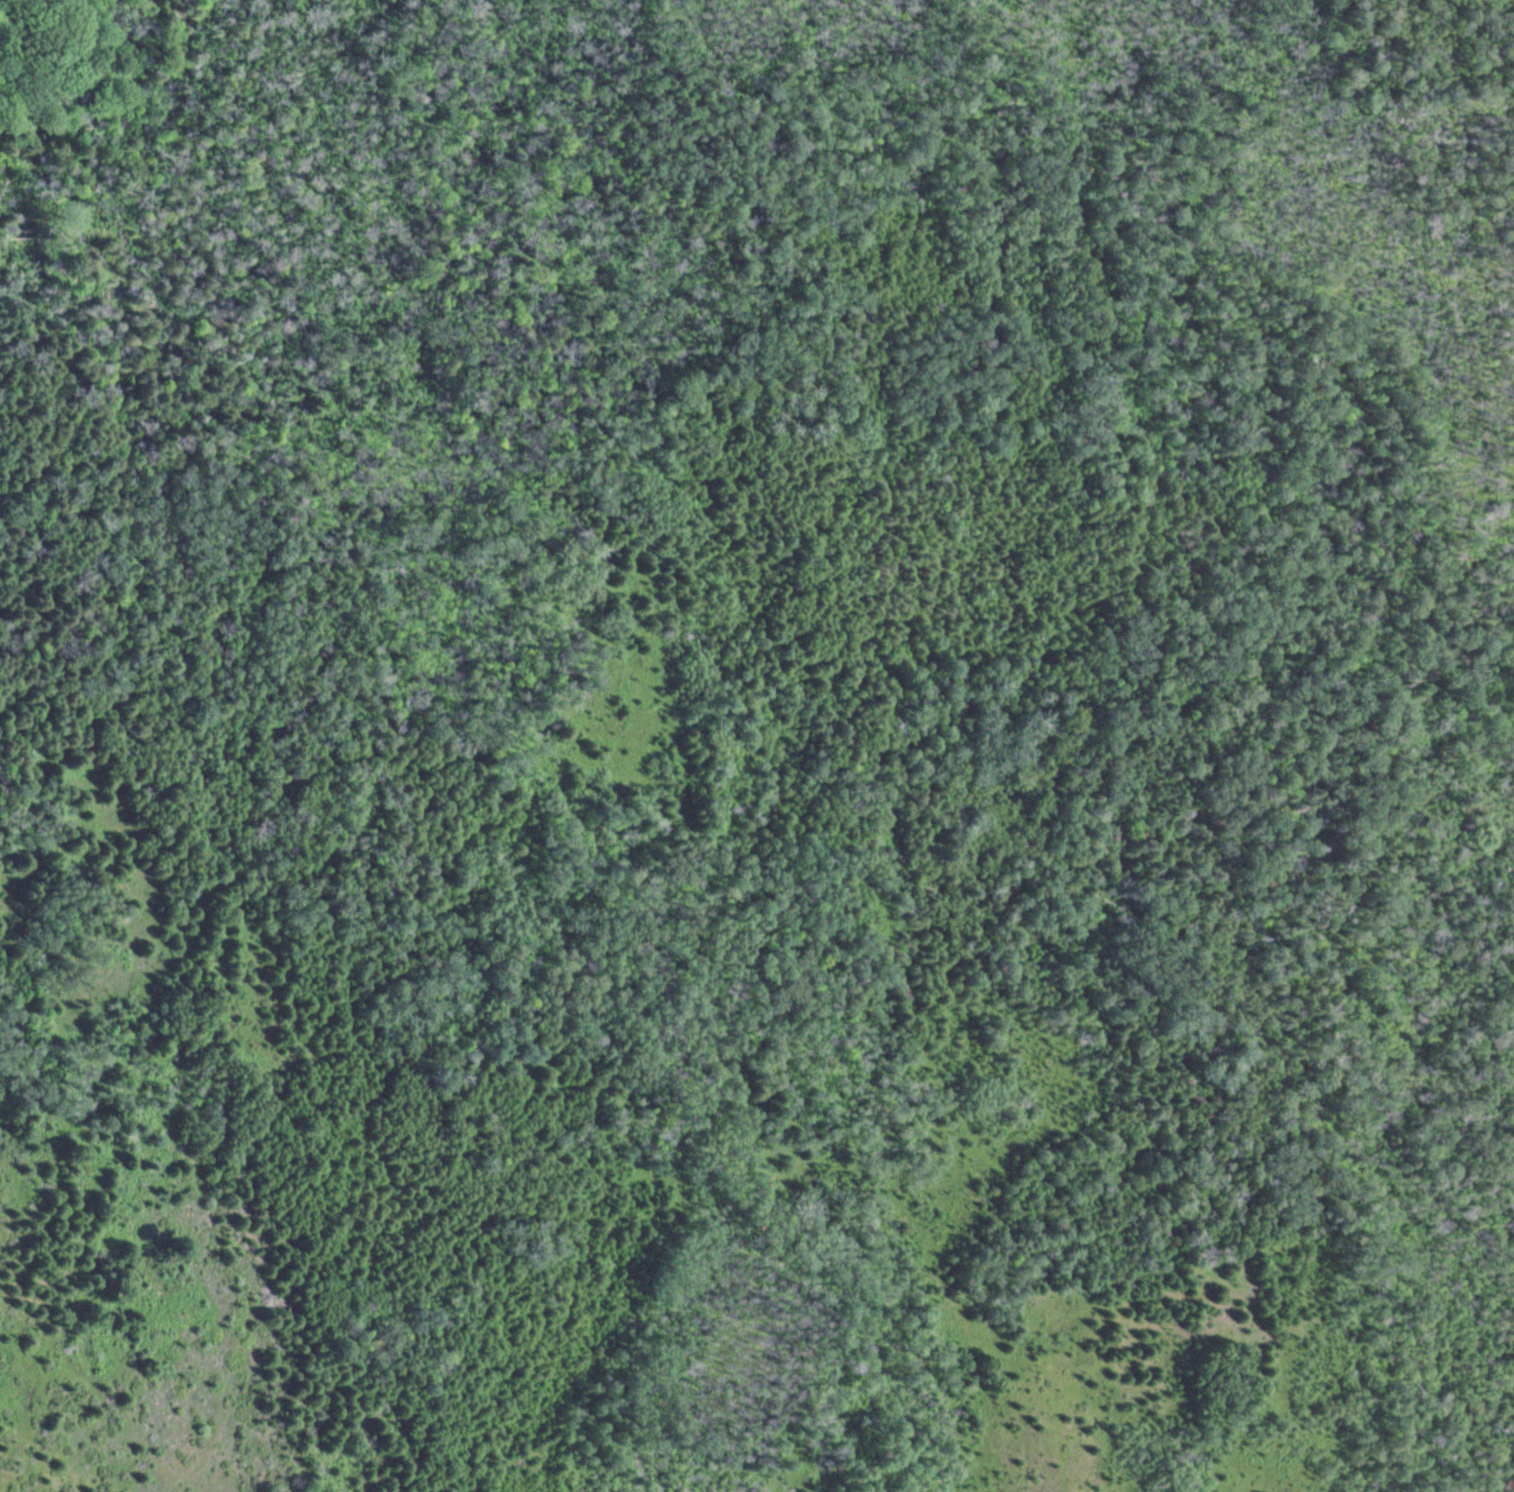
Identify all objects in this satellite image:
park: (169, 740)

